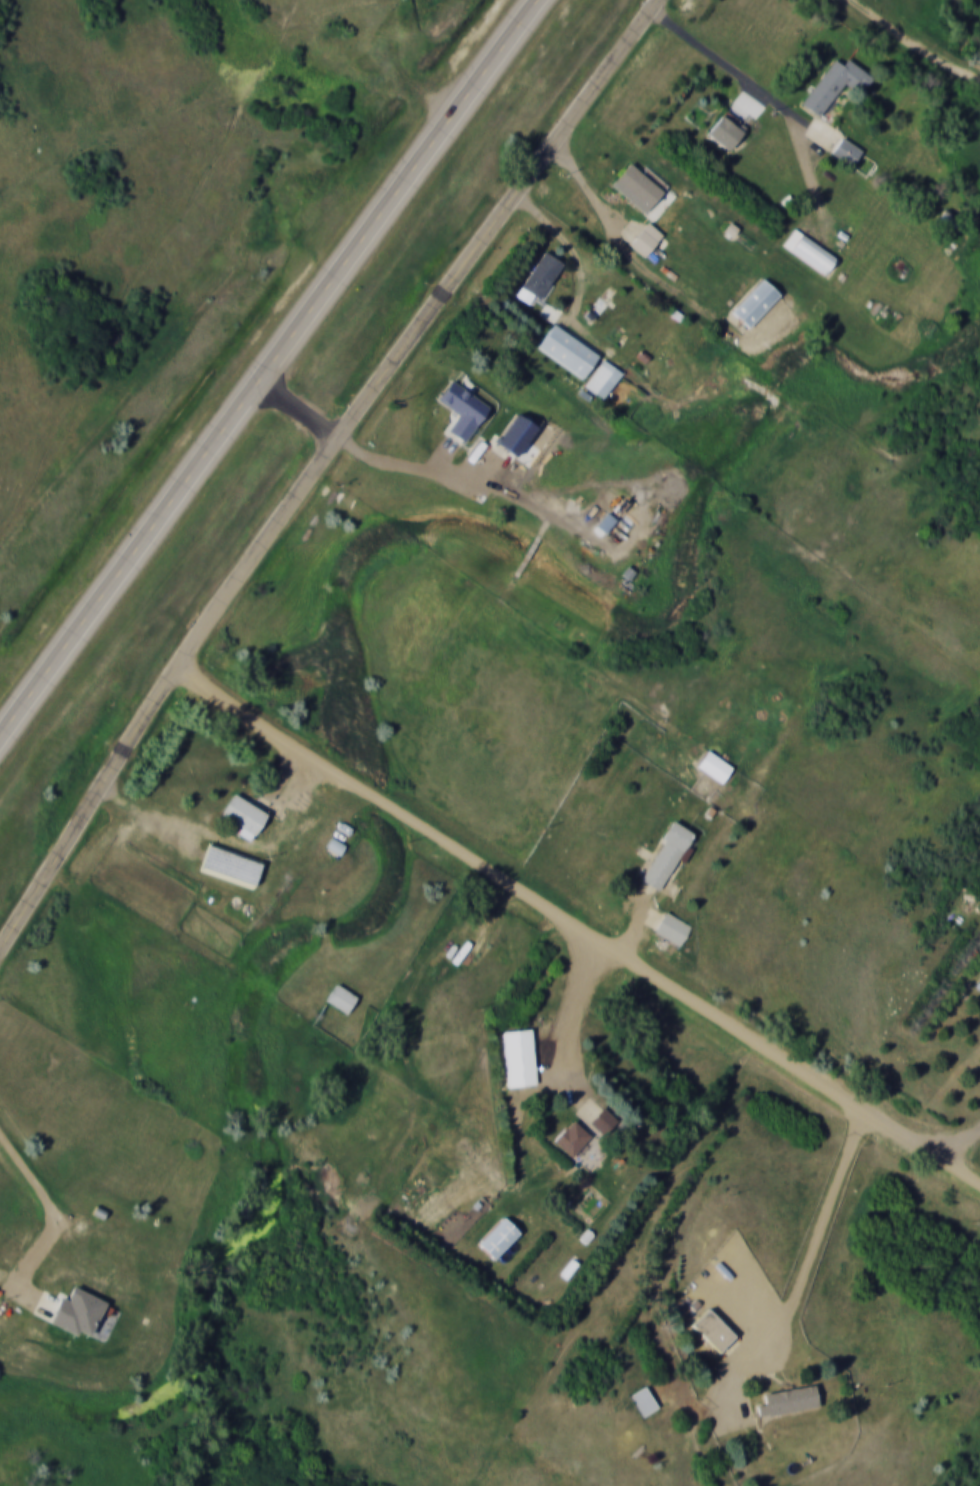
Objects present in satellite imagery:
road: (924, 35)
road: (773, 101)
building: (725, 132)
building: (639, 188)
building: (646, 240)
road: (567, 243)
road: (629, 248)
building: (810, 251)
building: (542, 275)
building: (756, 303)
building: (610, 315)
building: (568, 350)
road: (266, 370)
building: (603, 378)
road: (369, 455)
road: (315, 466)
building: (715, 767)
building: (244, 815)
road: (232, 841)
building: (667, 856)
building: (231, 865)
road: (671, 879)
road: (577, 928)
building: (342, 998)
road: (564, 1016)
building: (519, 1058)
building: (604, 1121)
building: (572, 1138)
road: (958, 1141)
road: (49, 1204)
road: (813, 1235)
building: (499, 1238)
building: (714, 1331)
building: (644, 1400)
building: (790, 1400)

